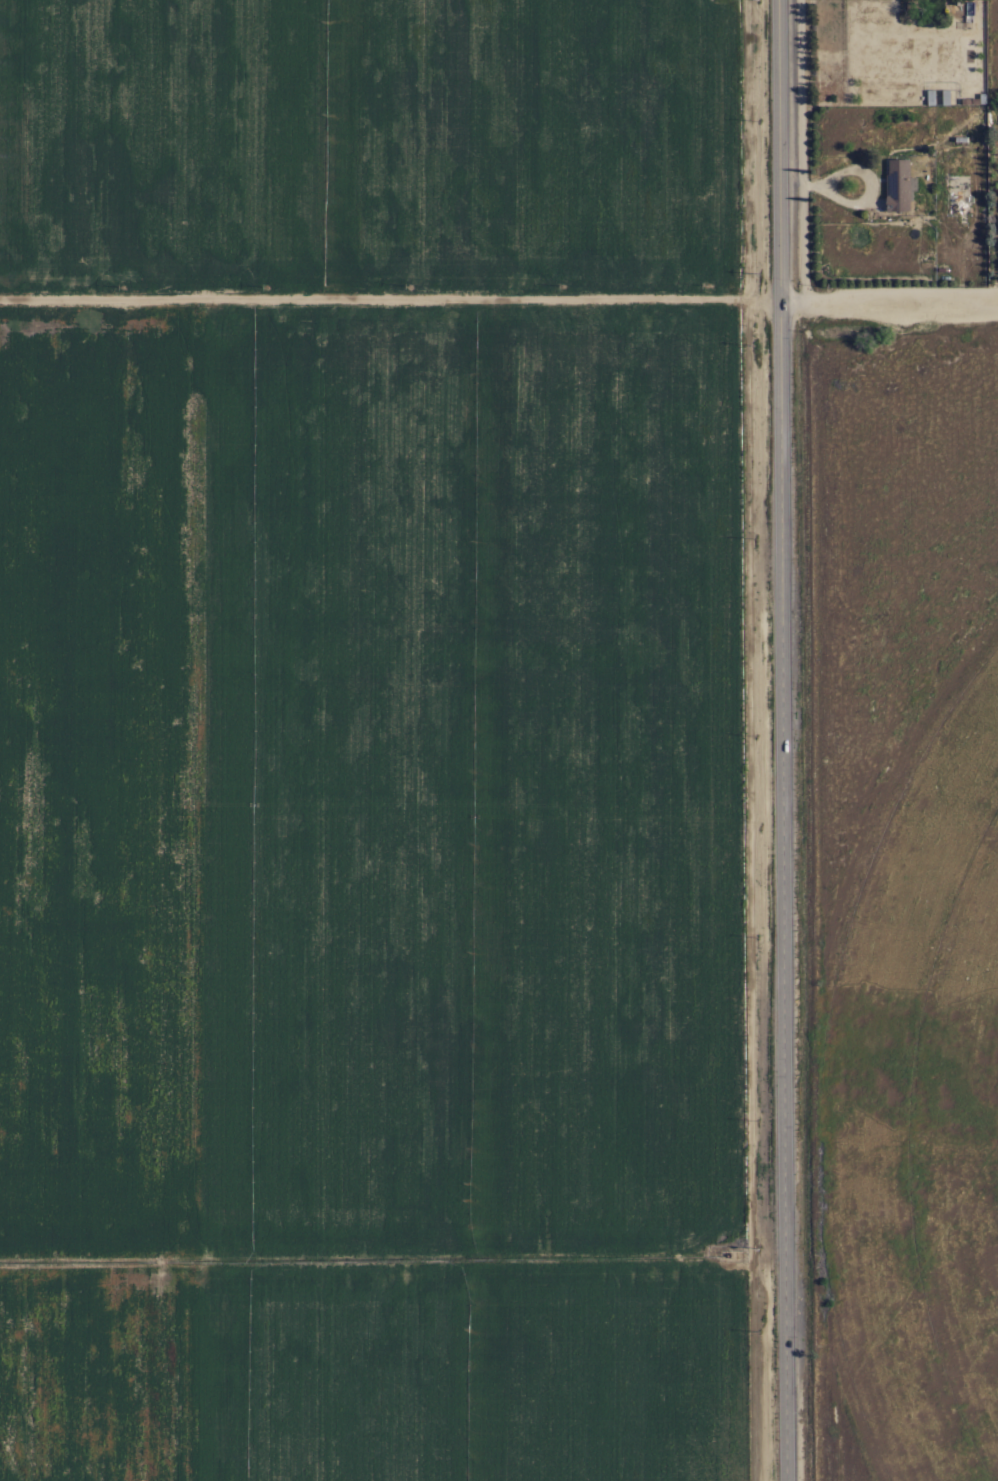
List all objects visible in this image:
building: (931, 97)
building: (945, 97)
building: (899, 185)
road: (499, 298)
road: (785, 740)
crop: (441, 781)

